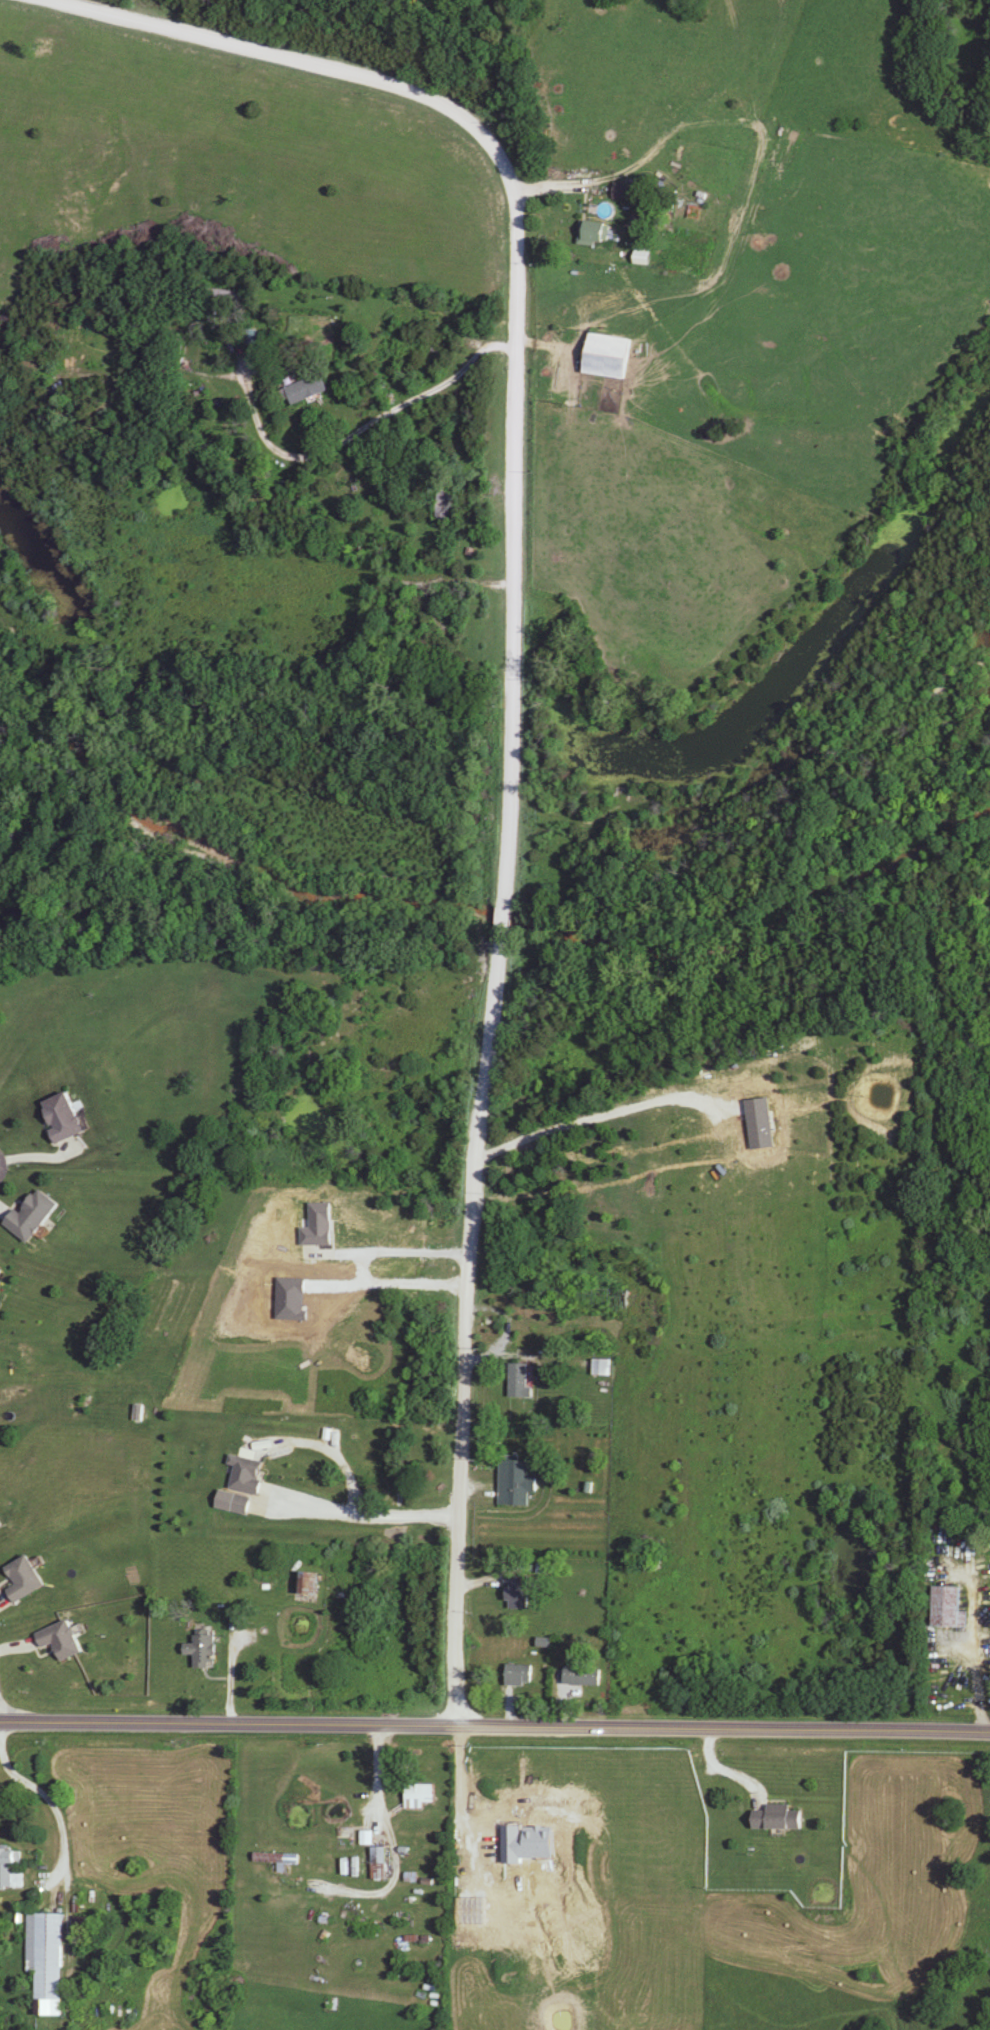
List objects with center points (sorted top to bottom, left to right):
building: (625, 193)
building: (594, 234)
road: (513, 284)
building: (608, 357)
building: (305, 389)
road: (354, 433)
building: (443, 505)
road: (501, 923)
building: (64, 1118)
building: (33, 1216)
building: (0, 1271)
road: (461, 1333)
building: (600, 1368)
building: (517, 1380)
building: (248, 1475)
building: (514, 1483)
building: (241, 1505)
road: (359, 1518)
building: (25, 1579)
building: (308, 1583)
building: (516, 1593)
building: (948, 1607)
building: (61, 1640)
building: (202, 1651)
building: (518, 1676)
building: (581, 1677)
road: (495, 1730)
building: (418, 1796)
building: (777, 1818)
road: (389, 1844)
building: (275, 1859)
building: (379, 1864)
building: (11, 1867)
building: (46, 1961)

